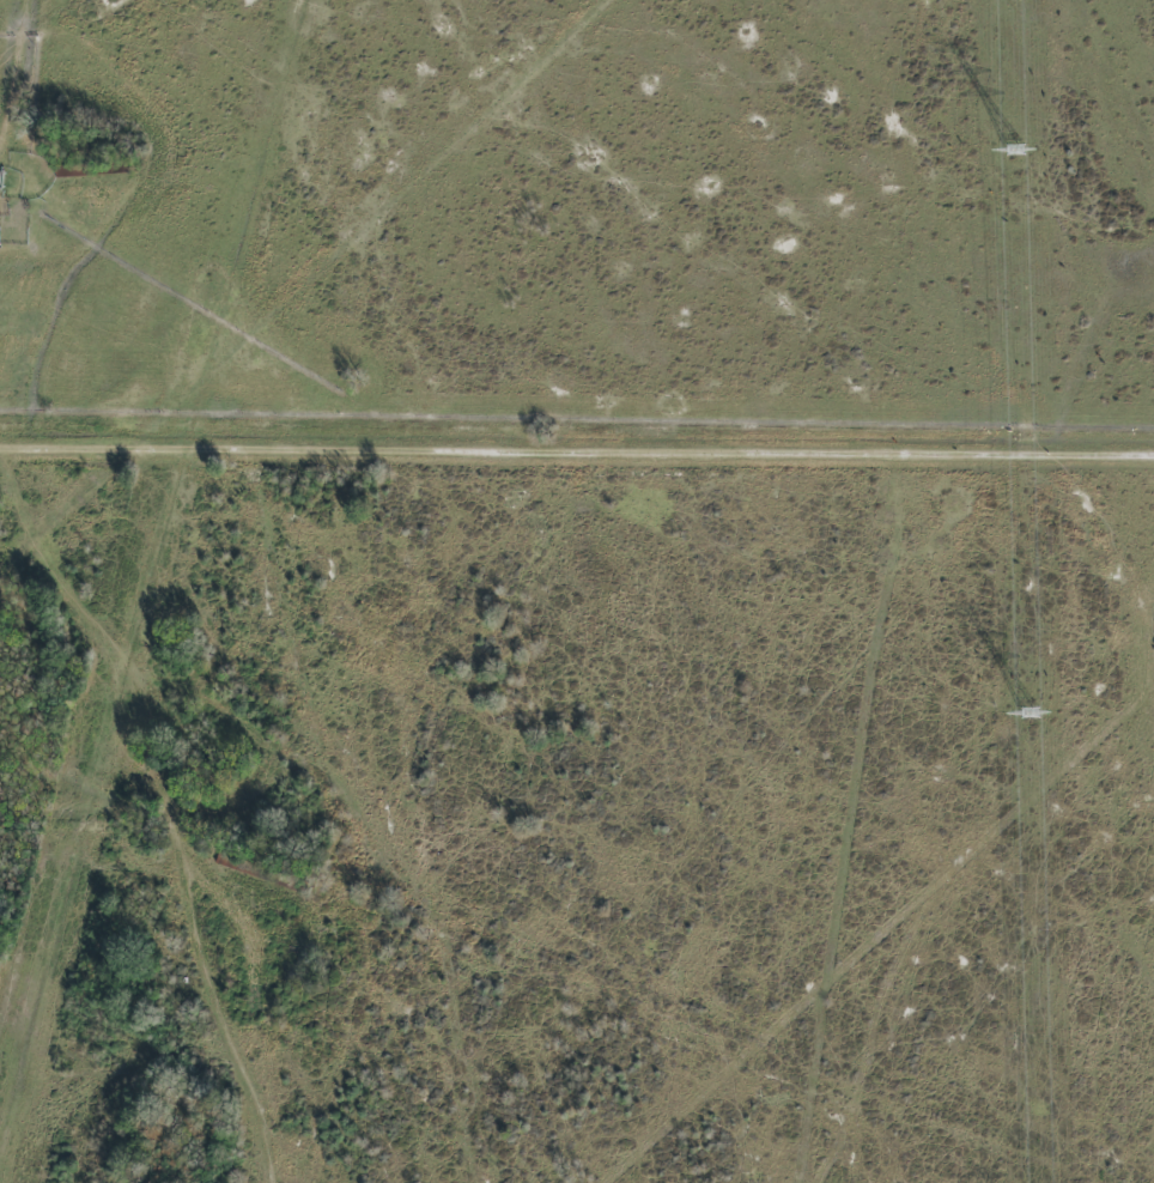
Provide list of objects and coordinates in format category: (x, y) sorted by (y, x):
road: (14, 95)
power tower: (1016, 150)
road: (576, 454)
power tower: (1032, 711)

